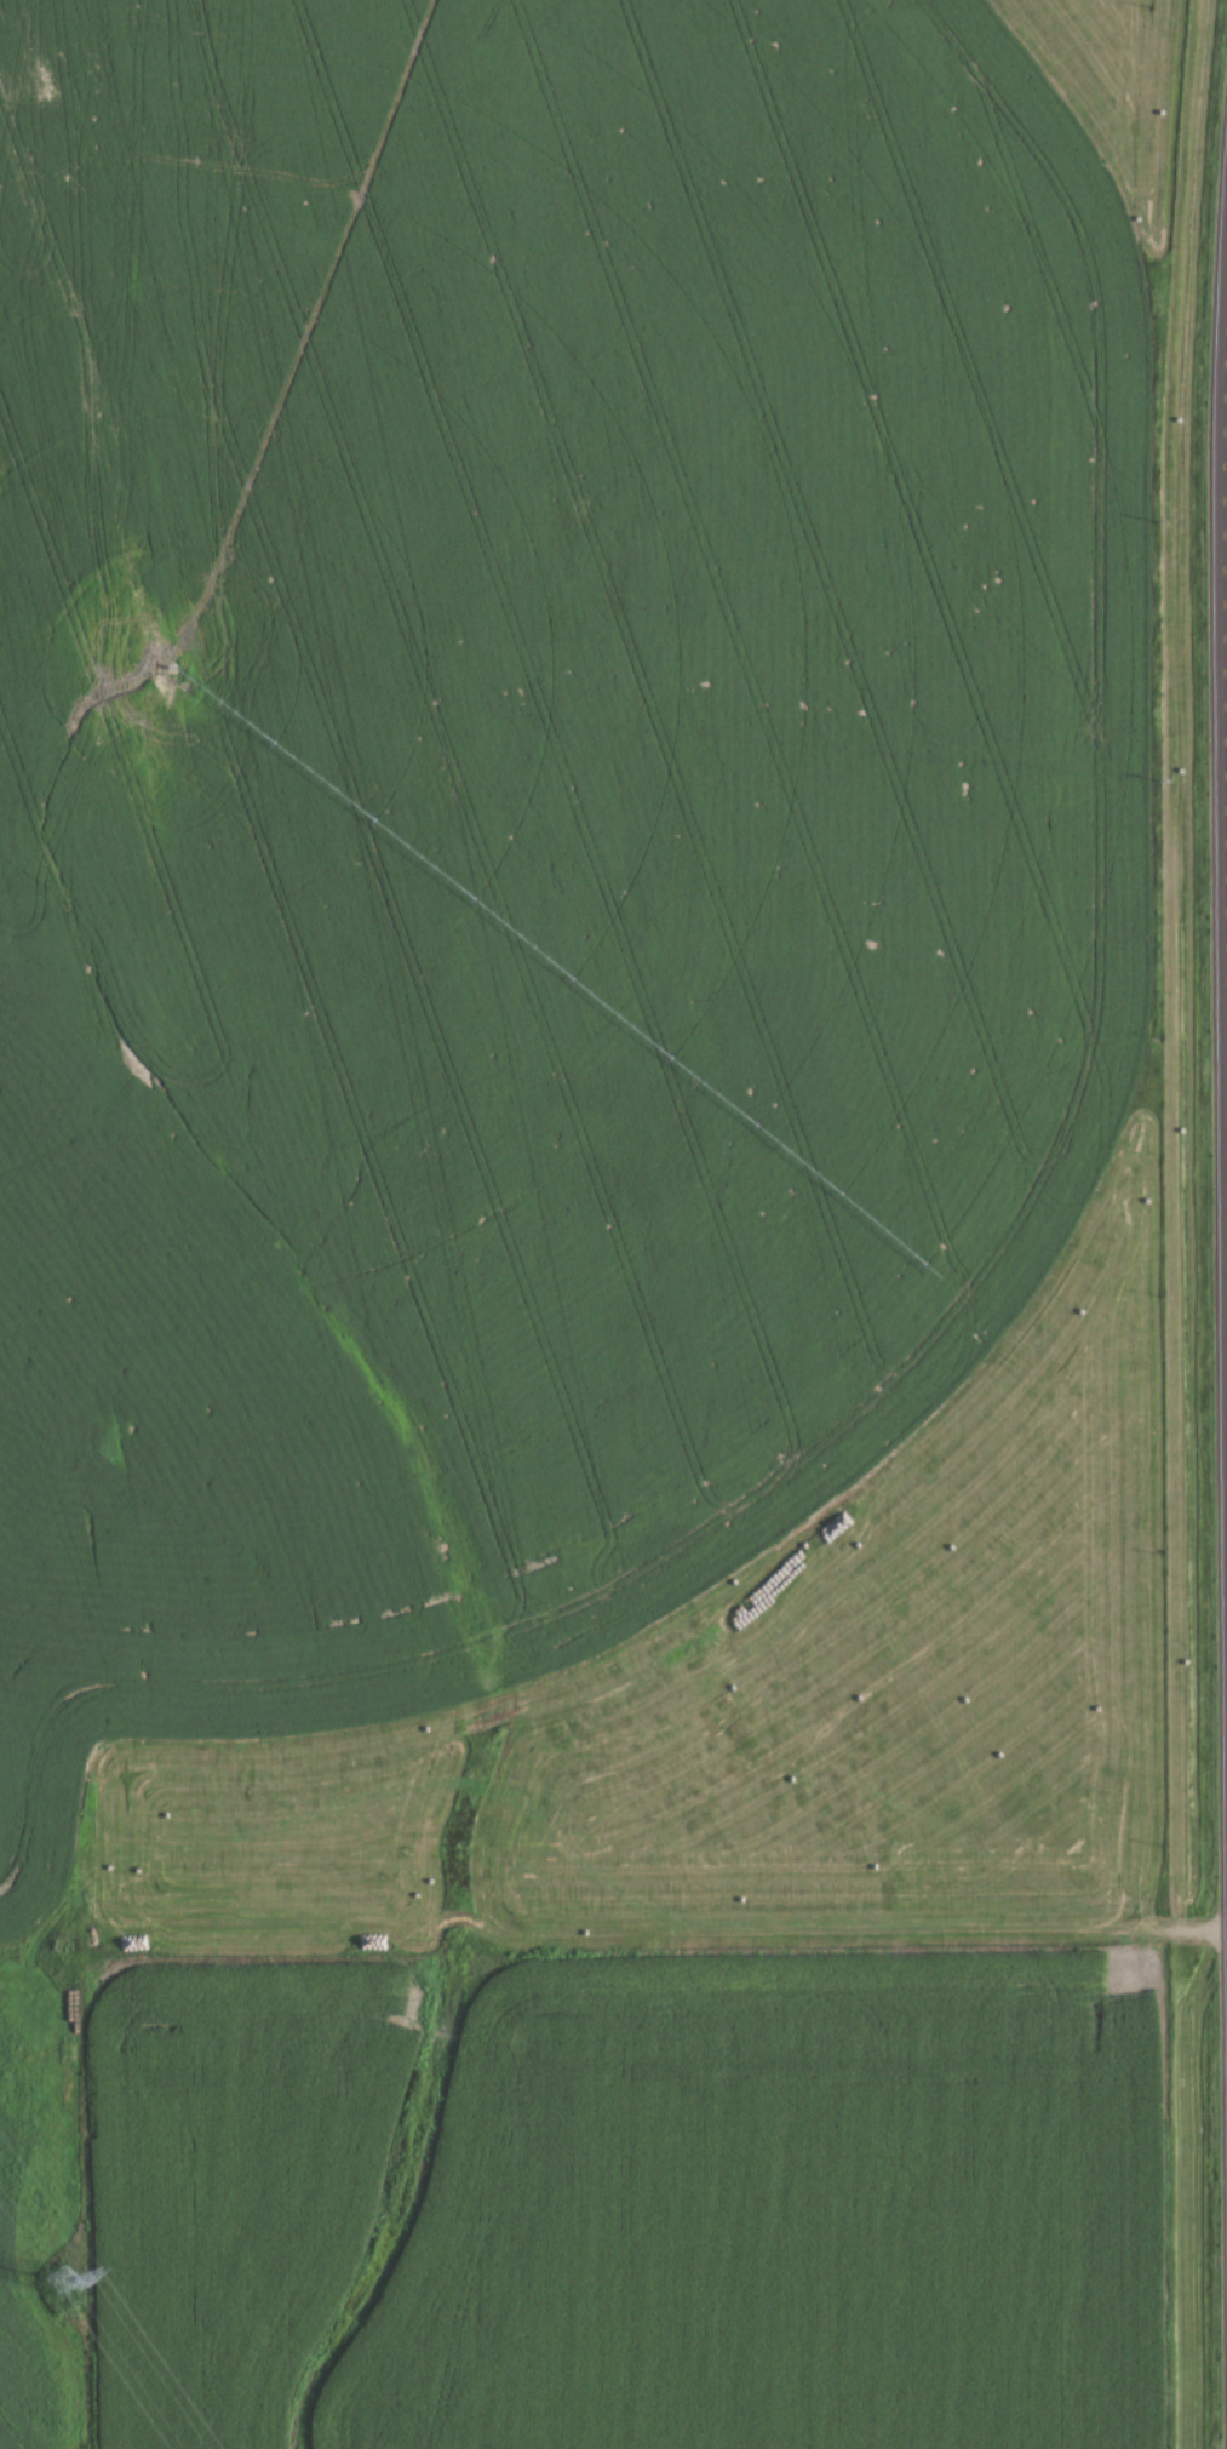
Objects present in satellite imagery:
road: (1226, 452)
power tower: (55, 2281)

